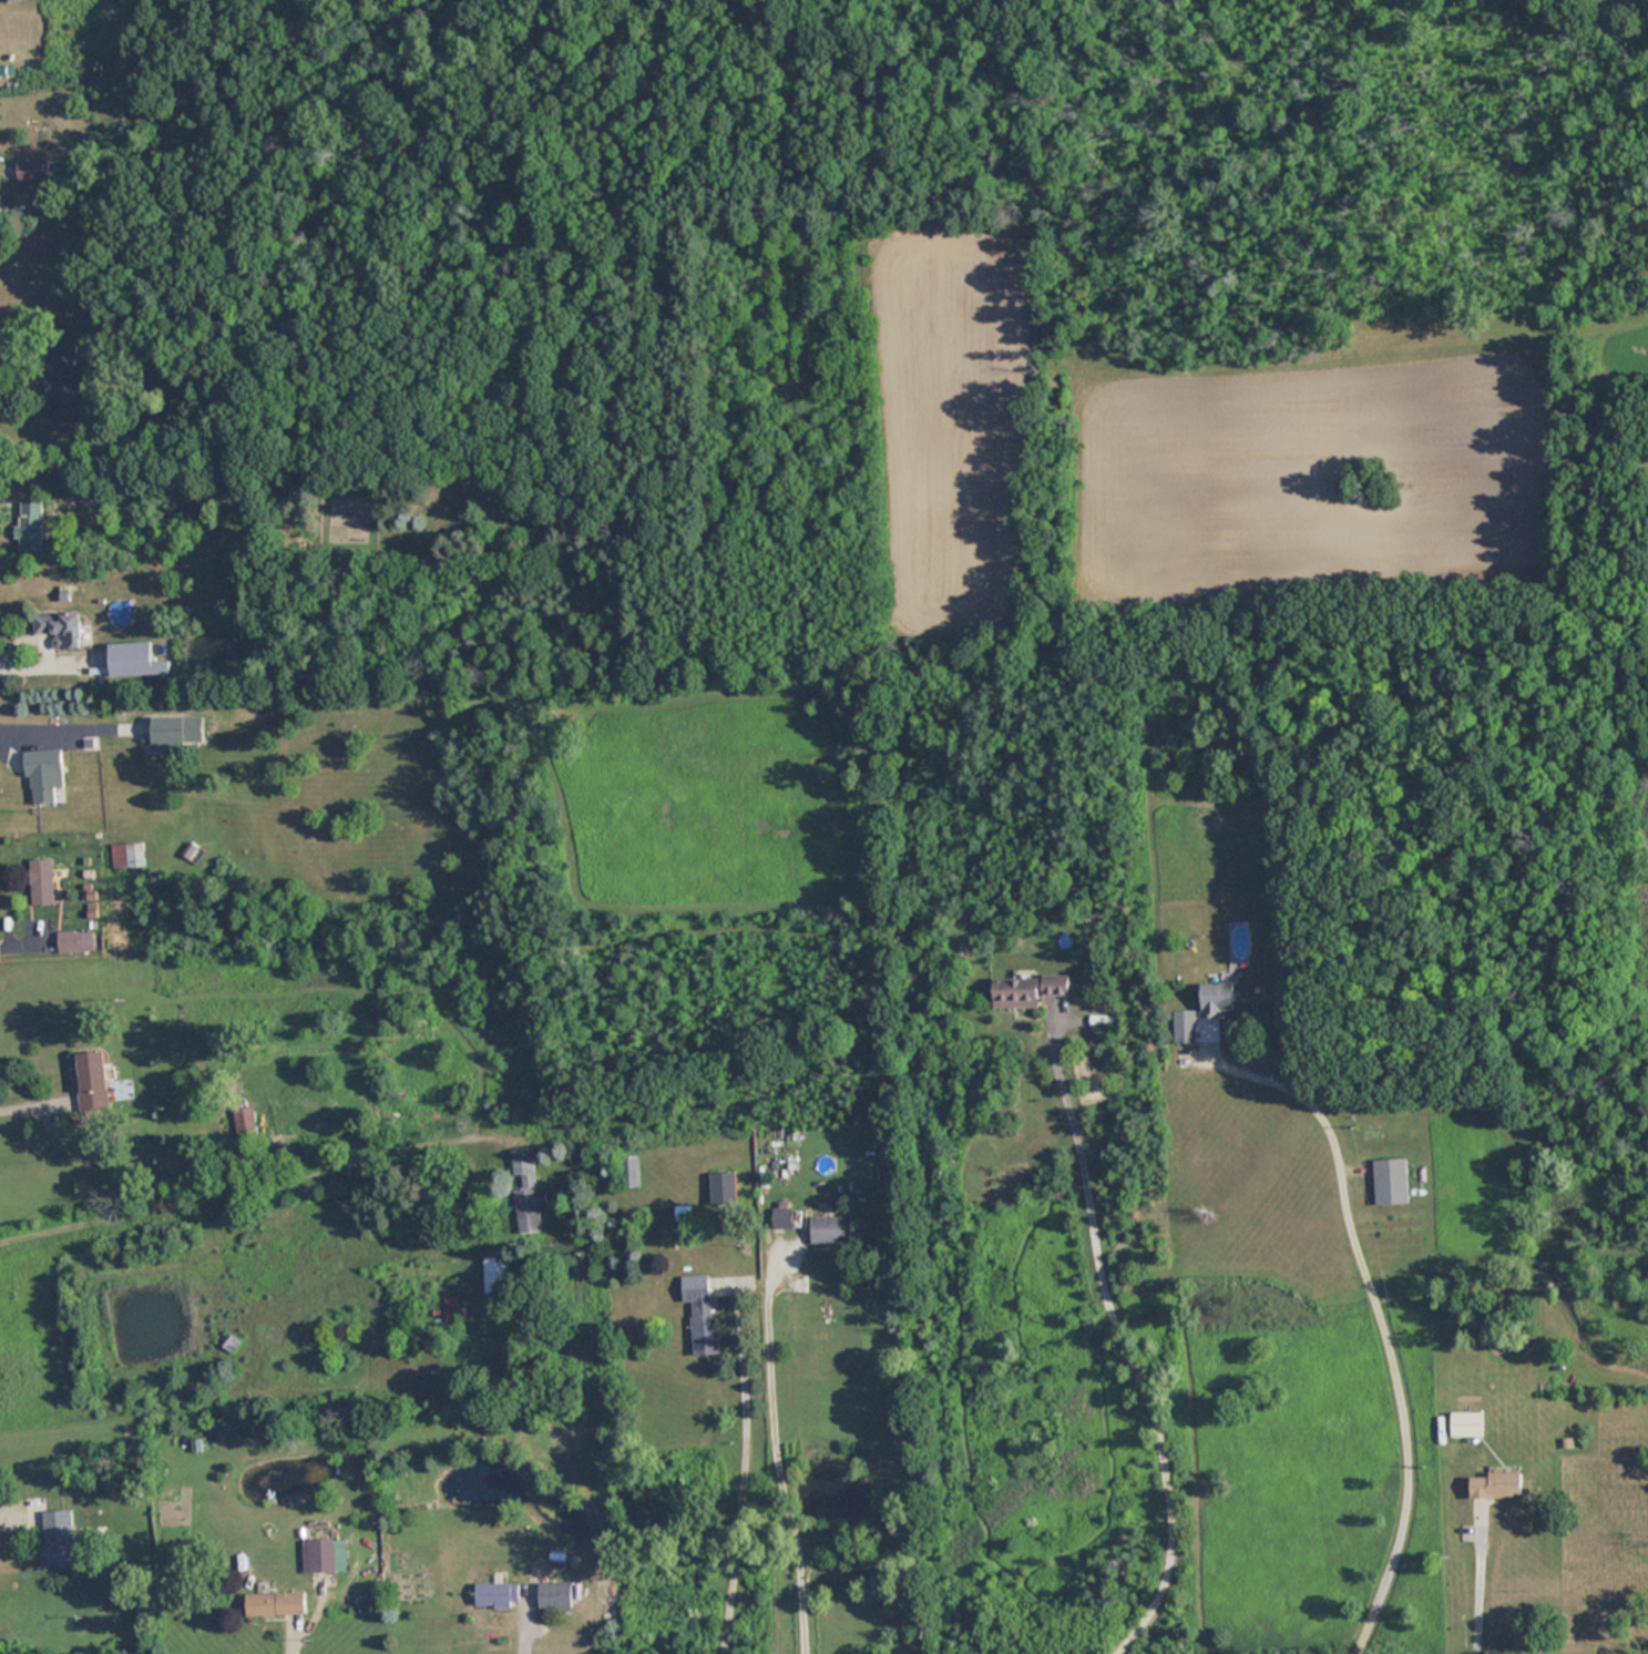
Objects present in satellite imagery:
building: (34, 170)
building: (60, 381)
building: (30, 523)
building: (61, 627)
road: (24, 649)
road: (69, 713)
building: (168, 732)
building: (44, 775)
building: (41, 881)
road: (27, 929)
building: (75, 941)
building: (1028, 989)
building: (1219, 999)
building: (1186, 1027)
building: (94, 1074)
building: (245, 1120)
building: (629, 1171)
road: (255, 1173)
building: (1391, 1181)
building: (726, 1187)
building: (528, 1191)
building: (786, 1218)
building: (831, 1229)
building: (497, 1274)
building: (702, 1311)
road: (1375, 1318)
road: (1119, 1341)
building: (231, 1344)
building: (1467, 1423)
road: (776, 1440)
road: (745, 1463)
building: (1497, 1485)
building: (58, 1538)
building: (318, 1556)
road: (1473, 1581)
building: (498, 1594)
building: (555, 1594)
building: (277, 1604)
road: (1636, 1653)

